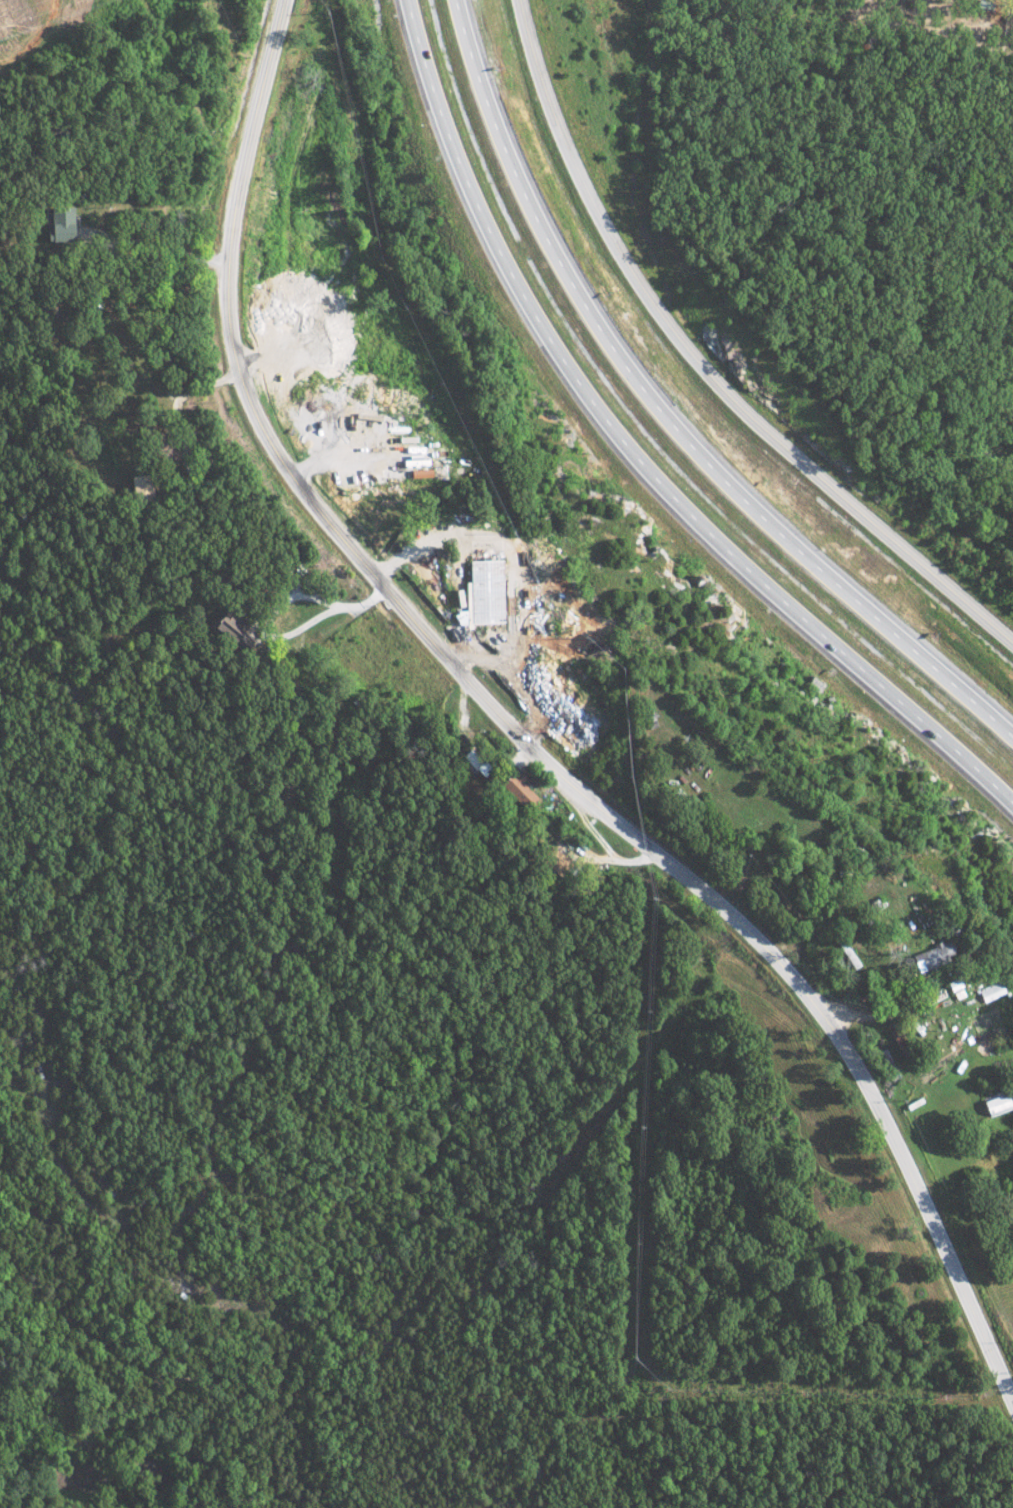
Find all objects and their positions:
building: (60, 225)
road: (157, 327)
road: (707, 362)
road: (666, 417)
road: (637, 452)
road: (325, 459)
road: (185, 463)
building: (419, 473)
building: (137, 487)
building: (479, 595)
road: (518, 622)
building: (225, 628)
road: (519, 678)
road: (523, 729)
building: (473, 760)
building: (516, 789)
road: (802, 939)
building: (931, 955)
building: (990, 991)
road: (879, 1016)
building: (994, 1104)

